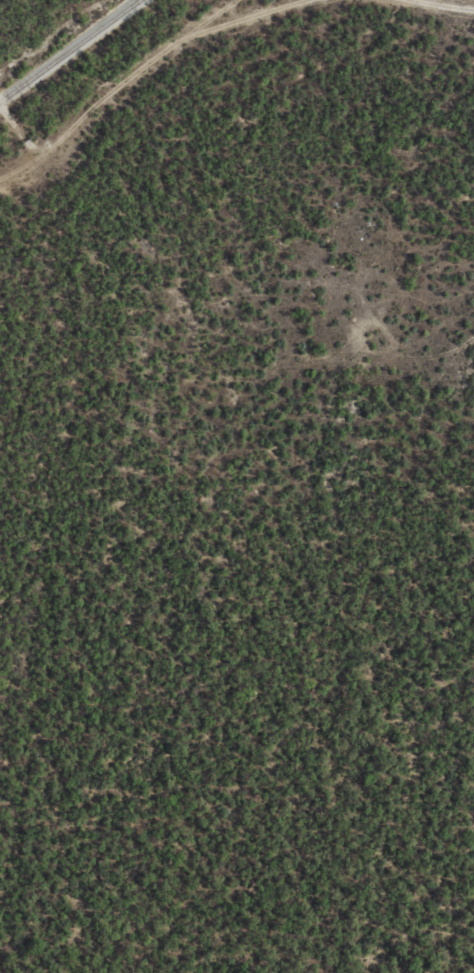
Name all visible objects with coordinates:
road: (442, 4)
road: (157, 46)
railway: (67, 49)
road: (20, 156)

